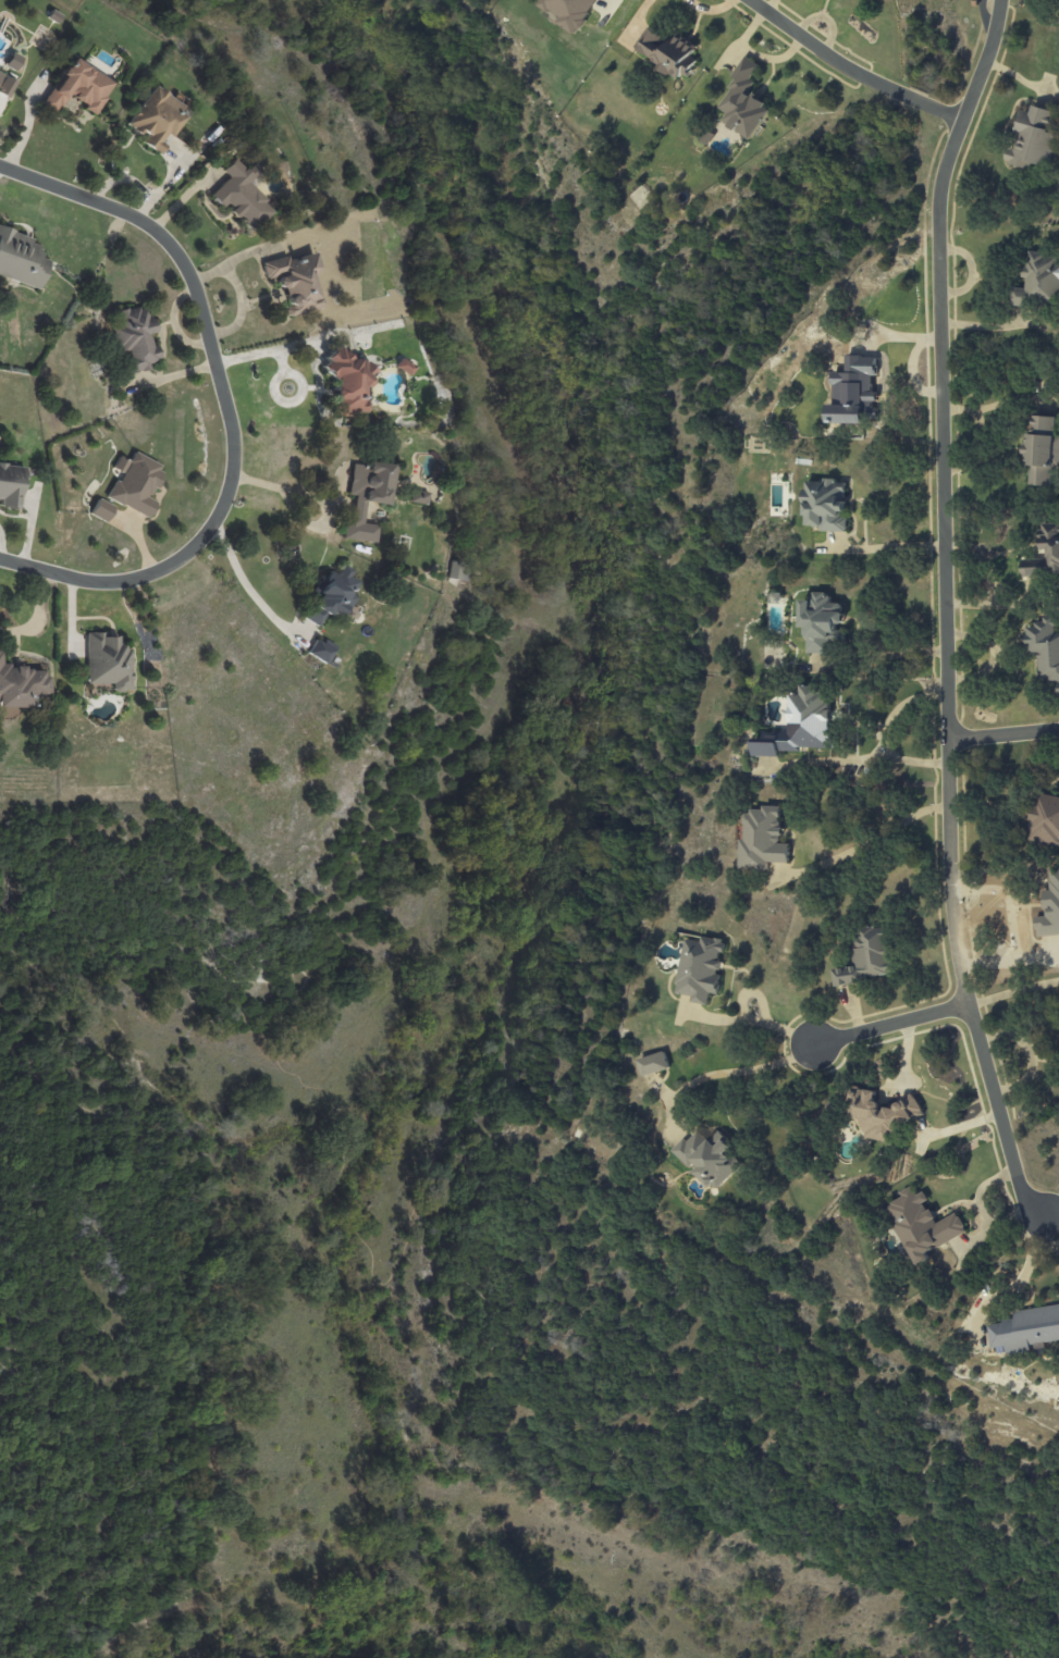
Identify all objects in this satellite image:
building: (569, 12)
building: (666, 52)
road: (849, 71)
building: (5, 85)
building: (77, 86)
building: (743, 102)
building: (157, 117)
building: (1033, 138)
building: (241, 195)
building: (20, 258)
building: (293, 281)
building: (1038, 281)
building: (134, 338)
building: (403, 367)
building: (346, 382)
road: (227, 401)
building: (1042, 451)
building: (134, 482)
building: (10, 486)
building: (367, 496)
building: (418, 496)
road: (318, 498)
building: (825, 505)
building: (101, 509)
road: (888, 547)
building: (1045, 555)
building: (456, 570)
road: (244, 582)
building: (331, 595)
road: (945, 610)
road: (37, 615)
building: (821, 624)
building: (1044, 648)
building: (319, 649)
building: (107, 660)
building: (21, 684)
road: (897, 708)
building: (801, 725)
road: (1003, 731)
road: (894, 759)
building: (1045, 821)
building: (762, 841)
road: (863, 845)
road: (1010, 916)
building: (866, 957)
building: (700, 969)
road: (1013, 992)
road: (891, 1024)
building: (653, 1064)
road: (725, 1073)
building: (878, 1113)
road: (459, 1131)
building: (709, 1158)
road: (980, 1210)
road: (1050, 1214)
building: (922, 1226)
road: (204, 1329)
building: (1025, 1329)

